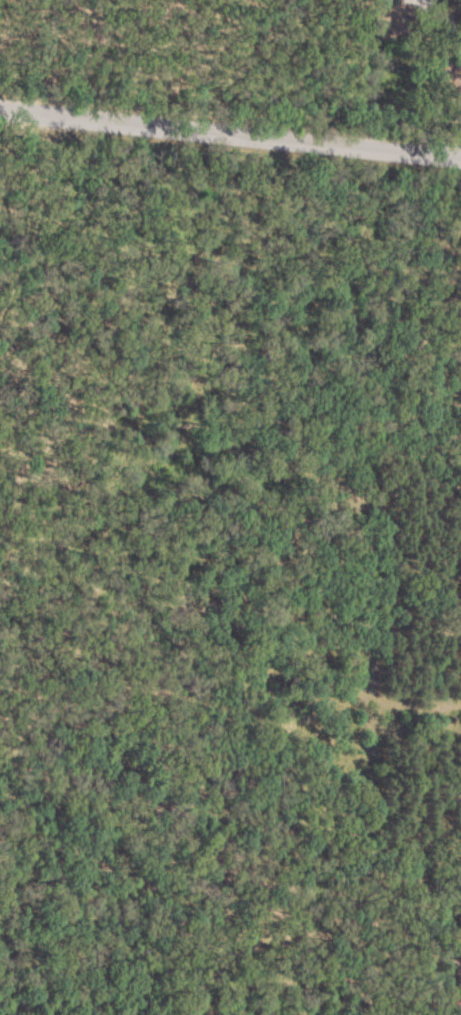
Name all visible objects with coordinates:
road: (449, 20)
road: (230, 123)

